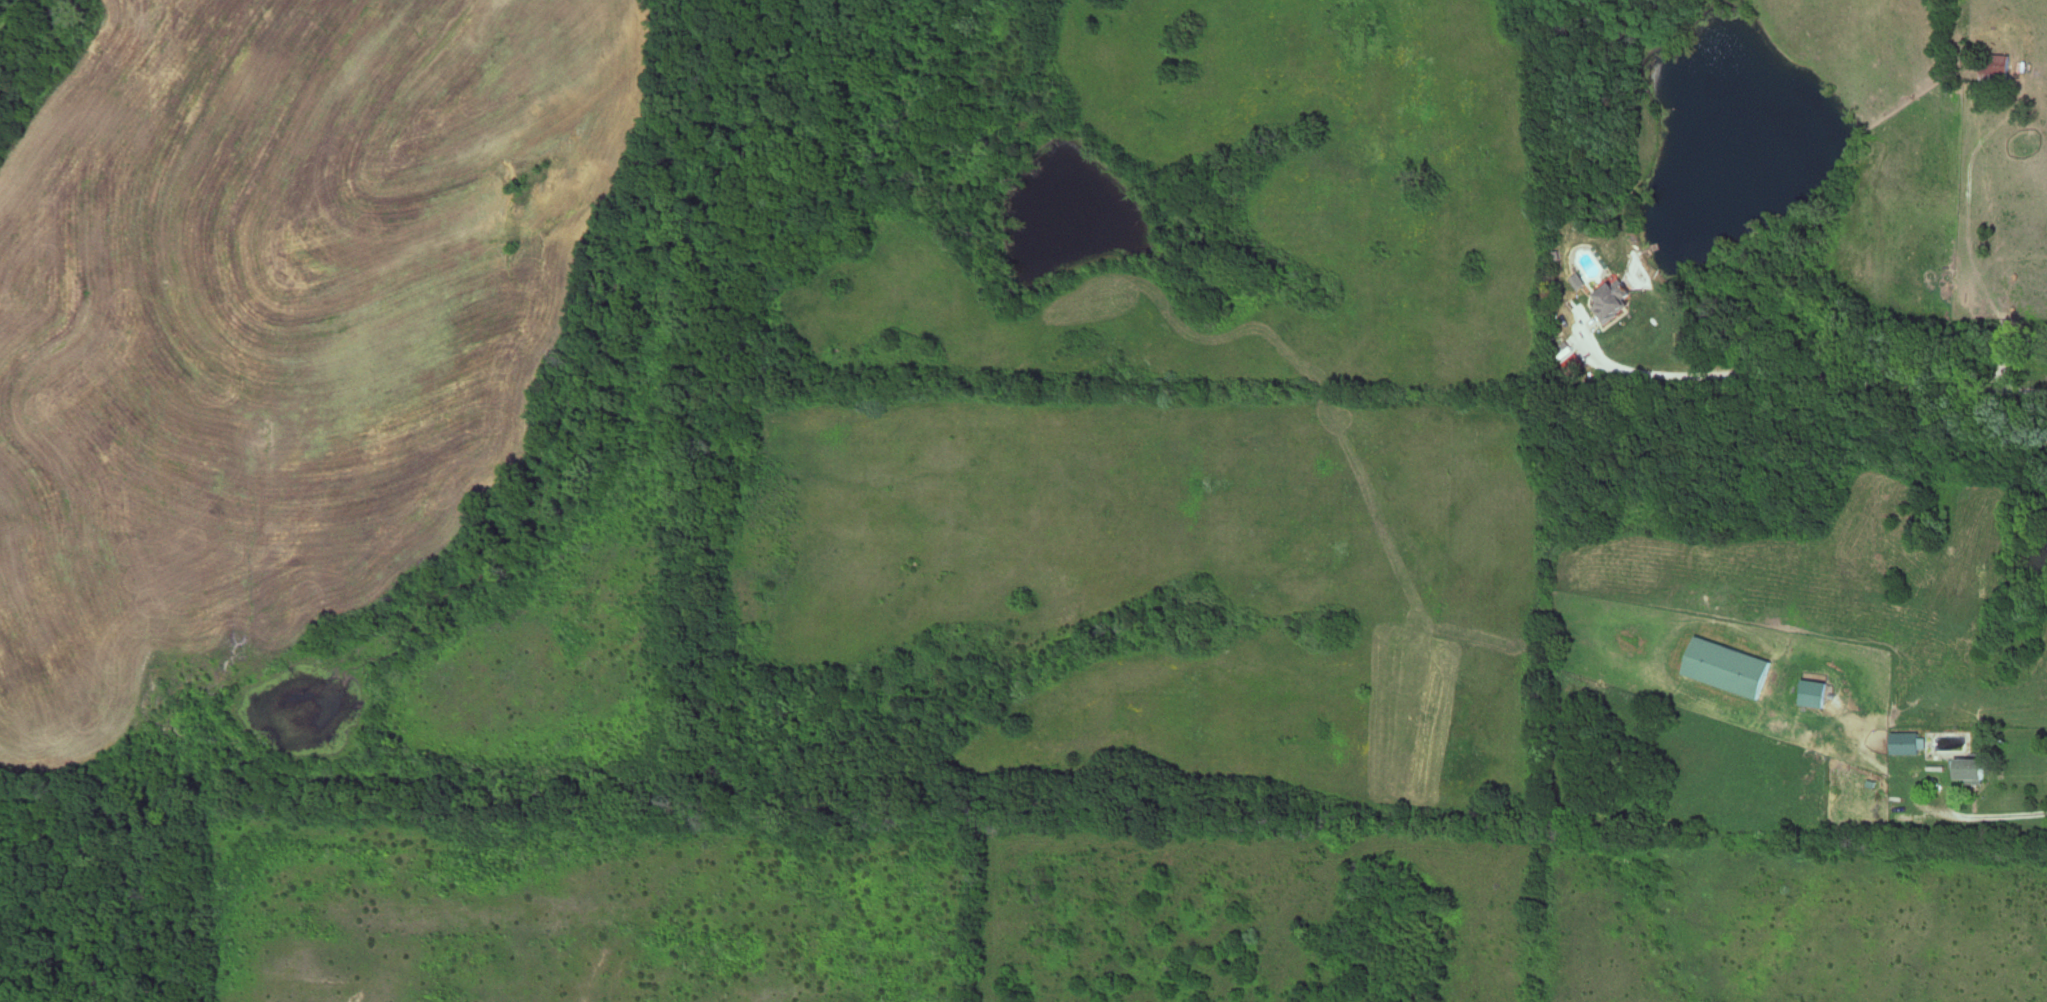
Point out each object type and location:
building: (1607, 301)
road: (1795, 376)
building: (1723, 668)
building: (1810, 695)
building: (1967, 771)
road: (2000, 816)

